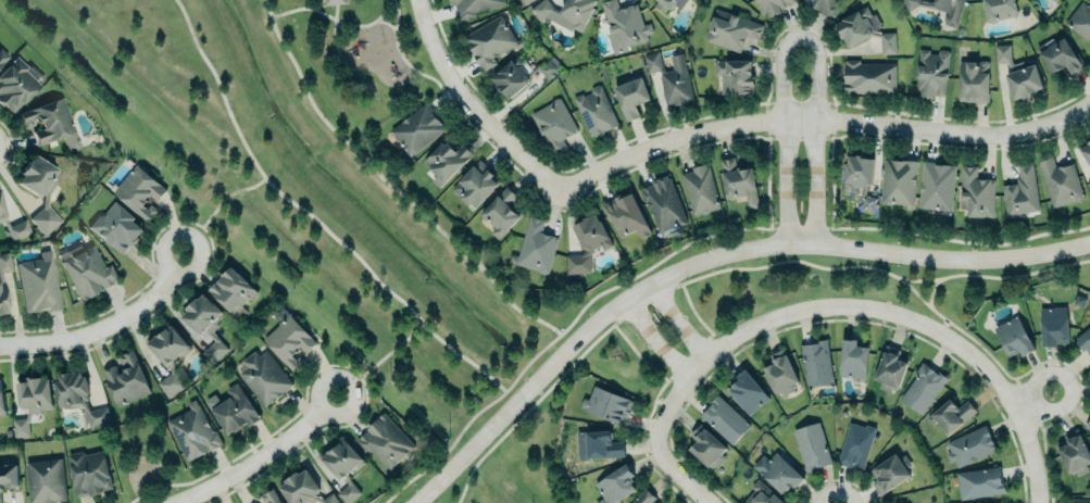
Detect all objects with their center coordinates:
building: (334, 1)
building: (523, 1)
building: (668, 3)
building: (910, 3)
building: (474, 5)
building: (772, 5)
building: (823, 5)
building: (999, 9)
building: (949, 10)
road: (380, 11)
building: (565, 12)
road: (396, 14)
road: (373, 21)
building: (1080, 21)
building: (625, 23)
building: (864, 28)
building: (730, 29)
road: (333, 37)
road: (798, 38)
building: (490, 40)
park: (362, 54)
building: (2, 55)
building: (1061, 56)
building: (930, 72)
building: (1018, 73)
building: (518, 74)
building: (734, 76)
building: (868, 76)
building: (669, 77)
building: (973, 80)
building: (15, 83)
building: (631, 97)
road: (472, 109)
building: (596, 111)
building: (50, 122)
road: (822, 123)
building: (554, 125)
building: (416, 128)
building: (1087, 151)
building: (446, 161)
road: (829, 175)
building: (860, 178)
building: (739, 181)
building: (898, 181)
building: (1060, 181)
building: (1089, 184)
road: (386, 185)
building: (476, 185)
building: (936, 186)
building: (40, 189)
park: (304, 190)
building: (700, 190)
building: (139, 191)
building: (1020, 192)
building: (975, 193)
building: (664, 203)
road: (213, 205)
building: (1, 210)
building: (501, 213)
building: (626, 215)
road: (309, 216)
building: (116, 227)
building: (17, 228)
building: (587, 241)
road: (953, 242)
building: (537, 247)
road: (706, 259)
building: (87, 269)
building: (39, 282)
building: (231, 290)
building: (2, 292)
road: (930, 292)
road: (825, 306)
road: (675, 320)
building: (204, 324)
building: (1053, 325)
road: (104, 326)
road: (563, 328)
building: (1013, 337)
building: (287, 339)
road: (653, 339)
building: (1085, 340)
building: (852, 359)
building: (170, 360)
road: (376, 361)
building: (816, 363)
building: (889, 369)
building: (780, 373)
building: (263, 376)
building: (126, 379)
building: (922, 388)
building: (747, 391)
building: (30, 401)
road: (1038, 401)
building: (1, 403)
building: (606, 405)
building: (231, 410)
building: (952, 415)
building: (724, 419)
building: (1088, 425)
building: (192, 431)
building: (385, 441)
building: (600, 444)
building: (855, 445)
building: (969, 445)
building: (811, 447)
building: (707, 449)
road: (261, 455)
road: (1033, 455)
building: (1074, 455)
building: (343, 467)
building: (777, 471)
building: (88, 473)
building: (888, 474)
road: (676, 475)
building: (8, 478)
building: (46, 480)
building: (979, 482)
building: (614, 485)
building: (303, 489)
building: (761, 494)
building: (270, 496)
building: (643, 498)
building: (1079, 501)

